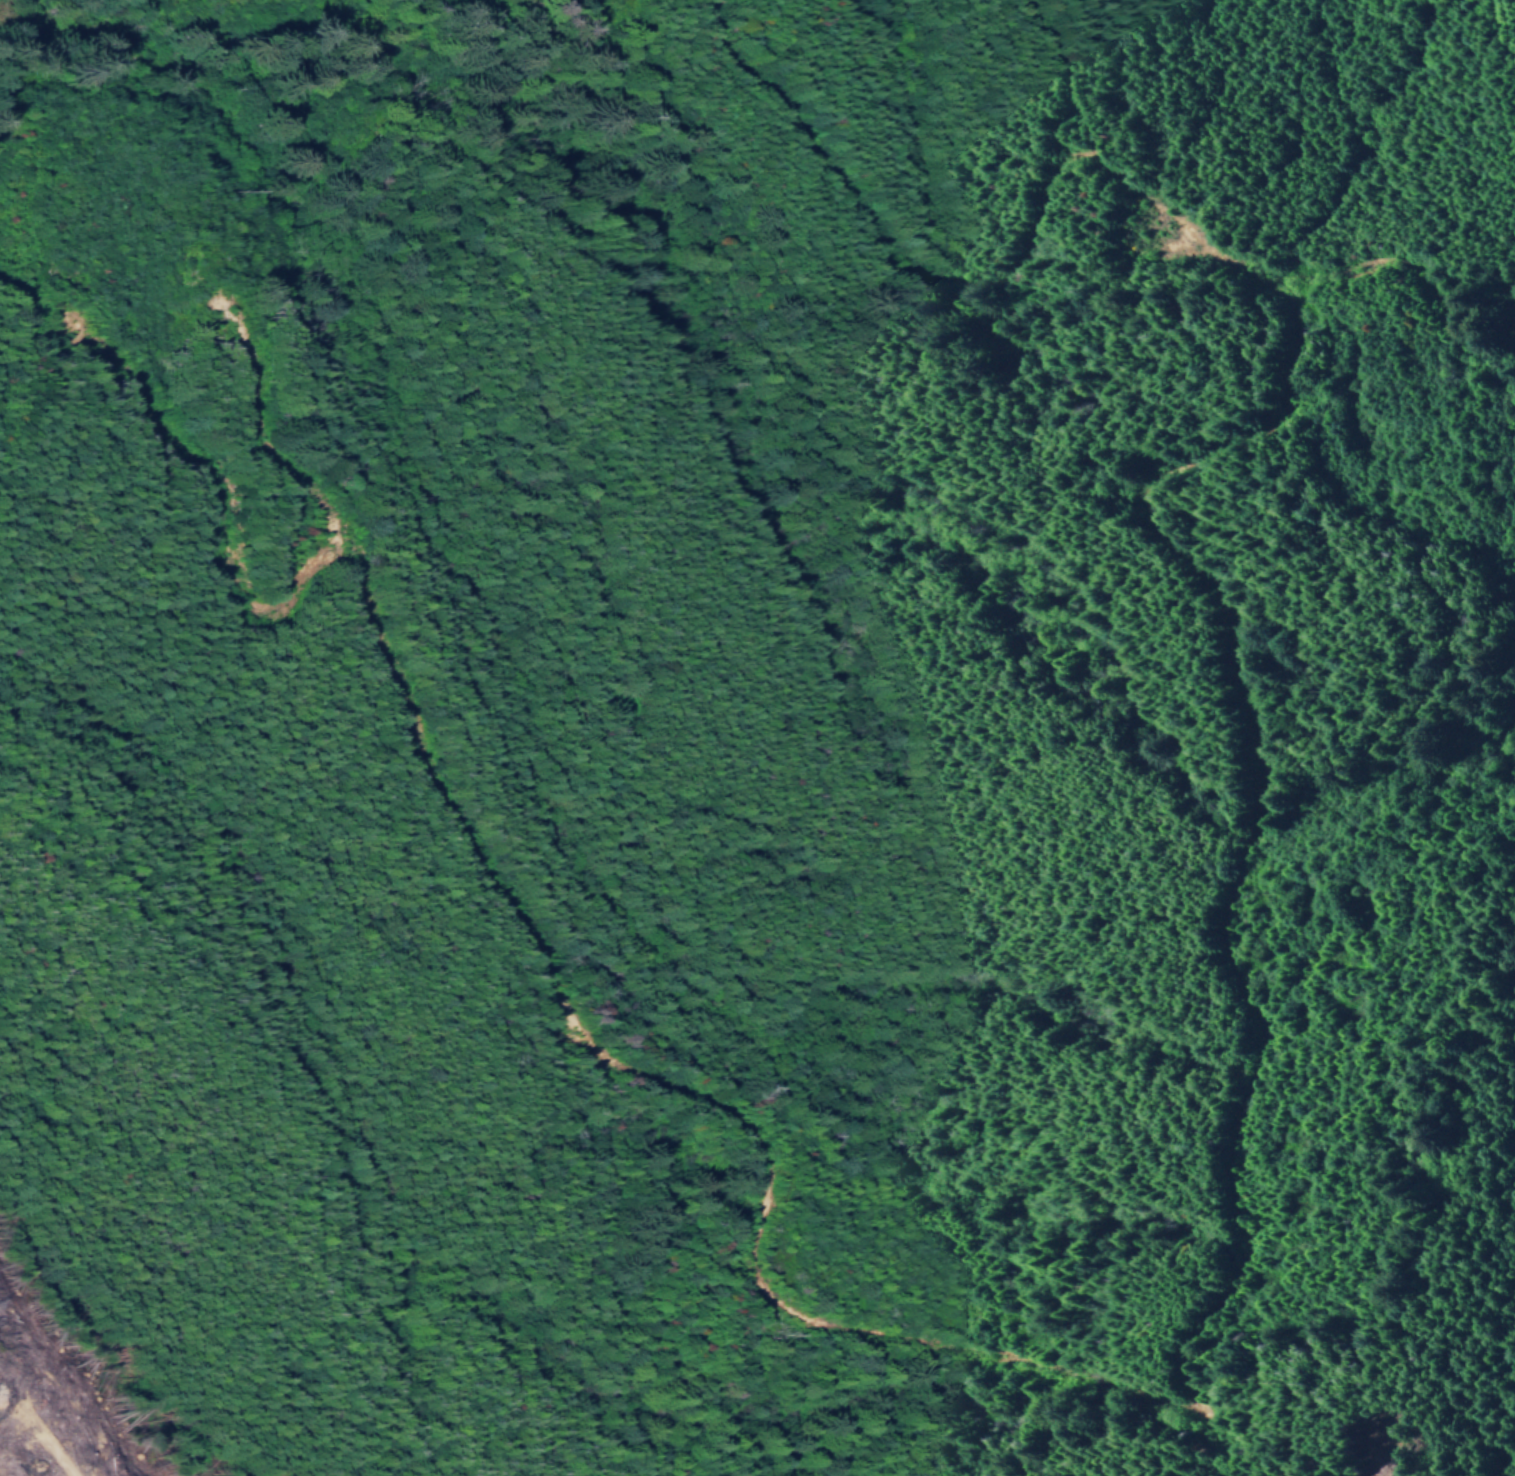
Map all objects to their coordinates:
road: (1057, 1369)

